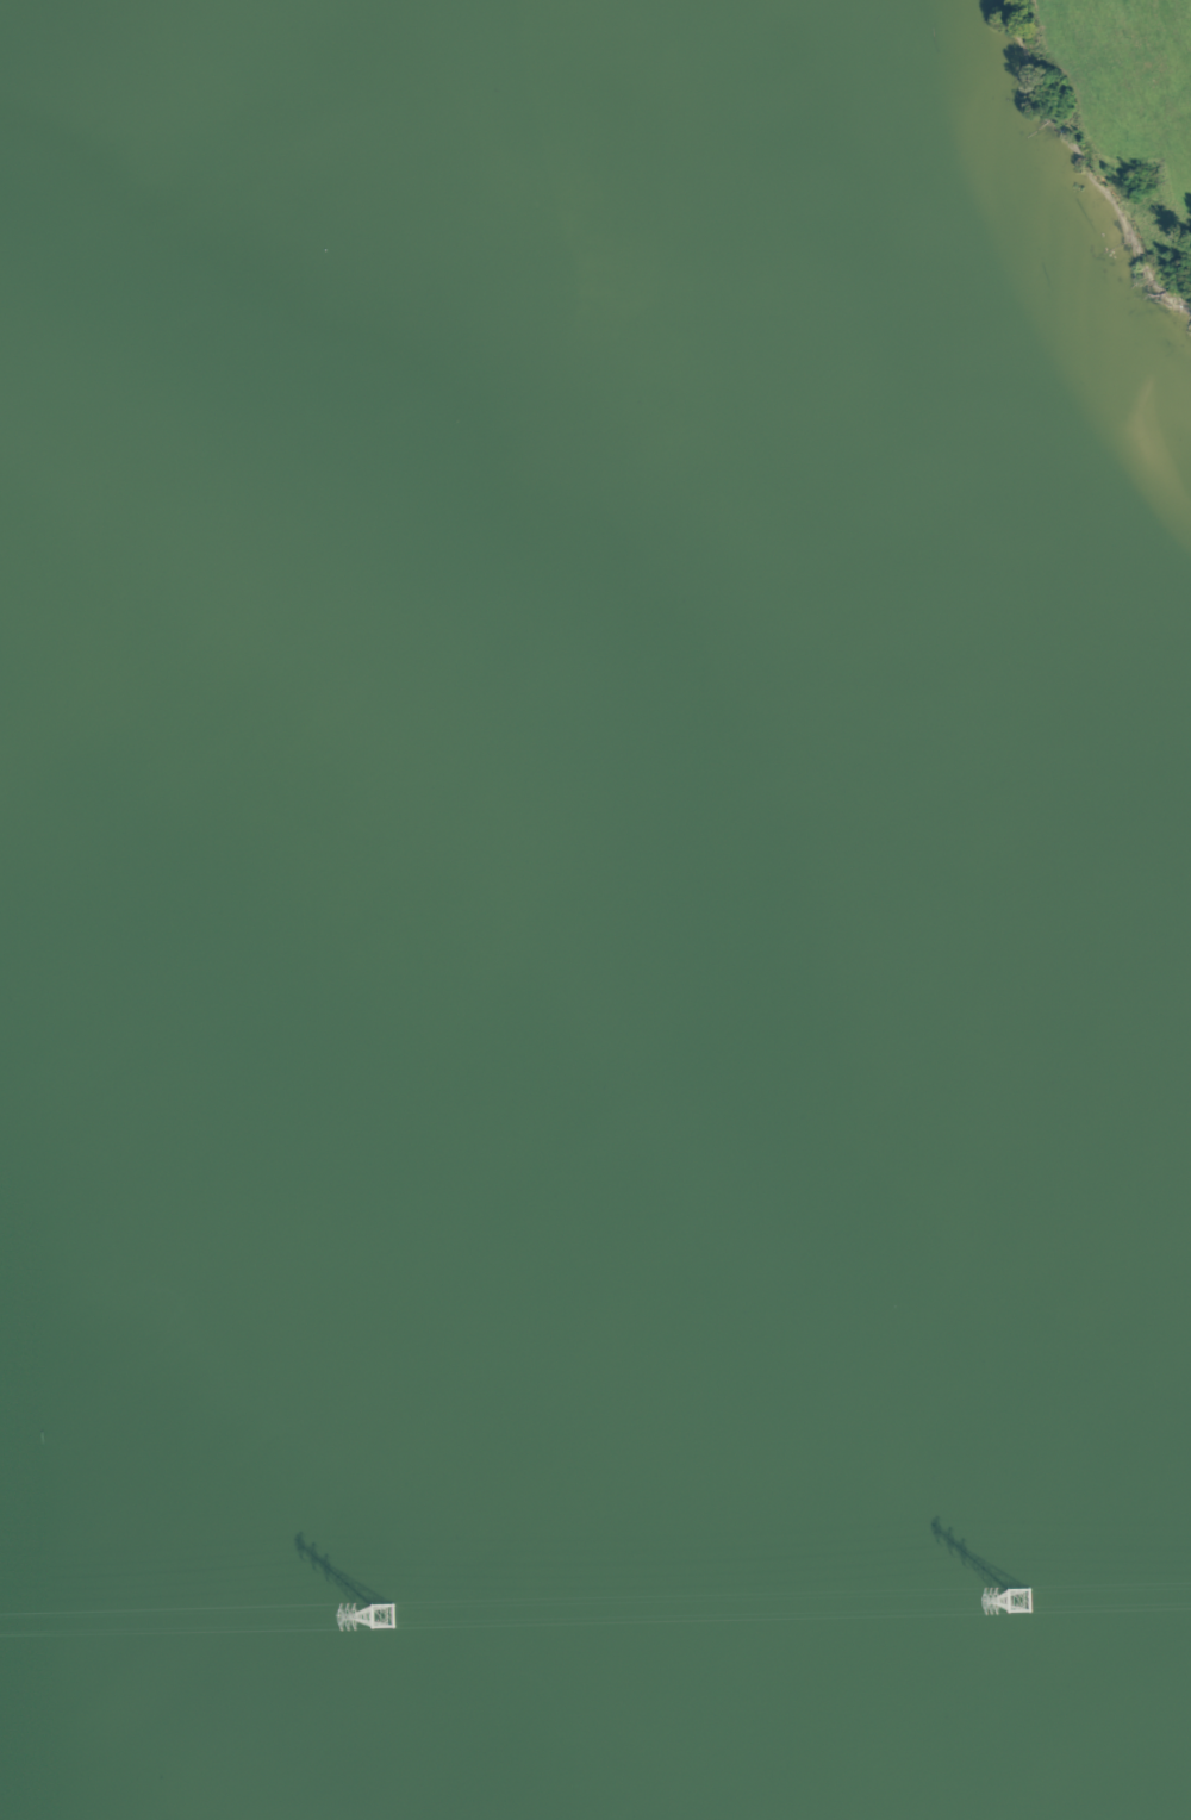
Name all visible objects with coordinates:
power tower: (1014, 1600)
power tower: (380, 1614)

